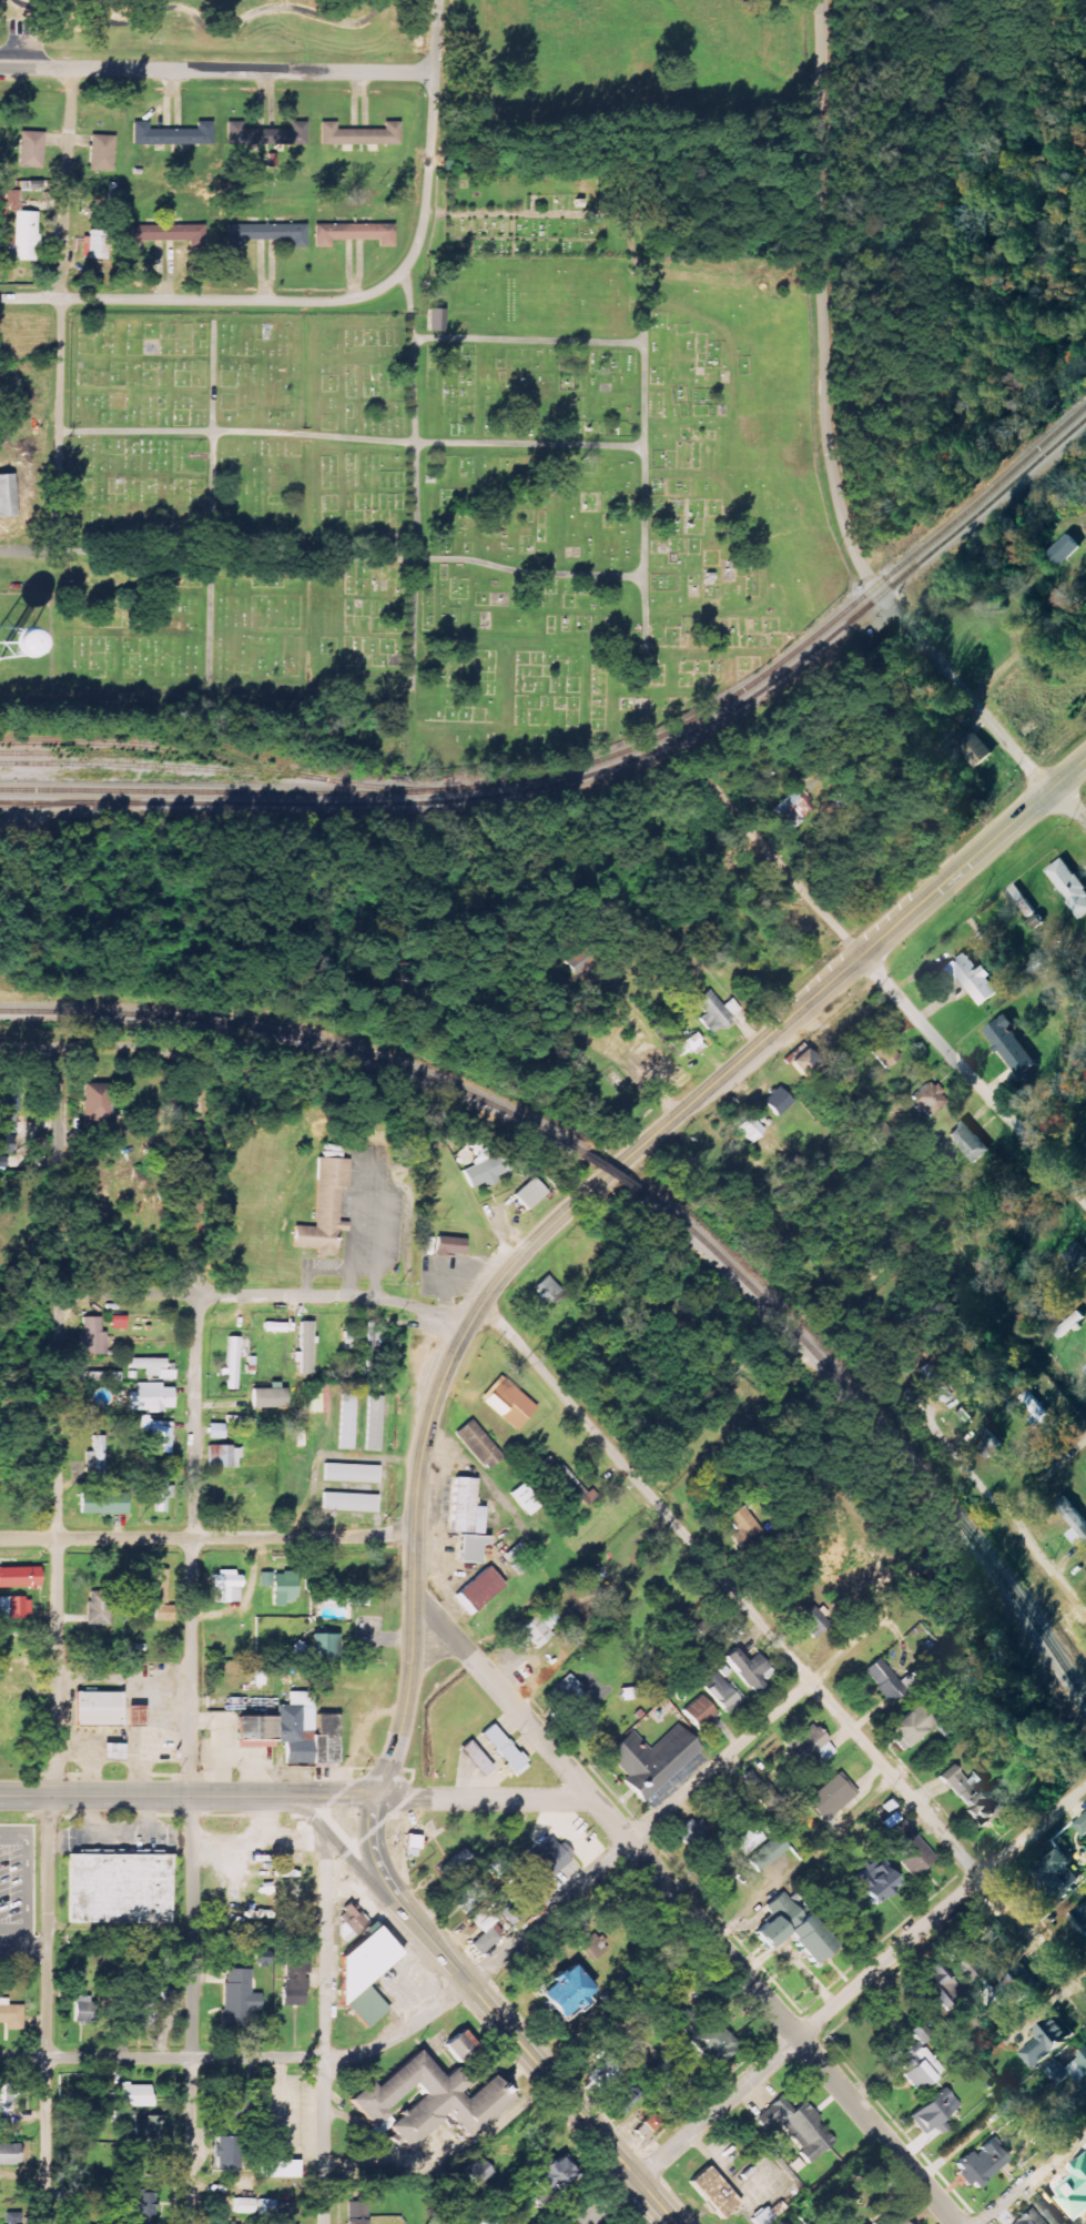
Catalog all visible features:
park: (629, 54)
road: (217, 70)
building: (173, 134)
building: (266, 135)
building: (359, 135)
road: (430, 139)
building: (31, 149)
building: (102, 153)
building: (9, 203)
park: (532, 214)
building: (163, 233)
building: (267, 234)
building: (356, 234)
building: (24, 236)
building: (95, 244)
road: (203, 300)
road: (63, 310)
building: (429, 319)
road: (642, 326)
road: (527, 341)
road: (351, 438)
road: (831, 456)
road: (414, 479)
building: (7, 496)
road: (212, 502)
park: (446, 512)
building: (1065, 549)
road: (28, 552)
road: (349, 555)
building: (8, 638)
water tower: (9, 644)
railway: (801, 647)
road: (1027, 649)
building: (974, 747)
railway: (126, 755)
railway: (231, 759)
railway: (165, 767)
railway: (601, 771)
railway: (231, 792)
railway: (48, 805)
building: (795, 808)
building: (1069, 886)
building: (971, 978)
building: (715, 1011)
road: (926, 1029)
railway: (301, 1037)
building: (688, 1044)
building: (1012, 1045)
road: (149, 1048)
building: (886, 1054)
building: (804, 1061)
building: (652, 1063)
building: (930, 1099)
building: (9, 1100)
building: (778, 1101)
building: (95, 1104)
building: (750, 1129)
building: (4, 1142)
building: (971, 1142)
building: (795, 1165)
building: (489, 1167)
railway: (609, 1173)
building: (531, 1193)
road: (586, 1194)
building: (326, 1207)
building: (450, 1245)
building: (1076, 1256)
building: (547, 1288)
road: (236, 1294)
building: (120, 1322)
building: (1070, 1324)
building: (93, 1337)
building: (362, 1343)
building: (305, 1348)
building: (232, 1363)
building: (153, 1367)
building: (935, 1385)
building: (152, 1397)
building: (270, 1398)
building: (509, 1403)
building: (1042, 1415)
road: (55, 1421)
building: (348, 1422)
building: (375, 1423)
road: (194, 1424)
railway: (881, 1431)
building: (216, 1432)
building: (159, 1434)
building: (988, 1442)
building: (479, 1445)
building: (223, 1456)
building: (99, 1463)
building: (352, 1473)
road: (1046, 1475)
building: (570, 1484)
building: (163, 1494)
road: (996, 1498)
building: (526, 1499)
building: (104, 1503)
building: (351, 1503)
building: (1073, 1519)
building: (468, 1520)
building: (748, 1527)
road: (206, 1538)
building: (20, 1577)
building: (281, 1586)
building: (226, 1587)
building: (479, 1590)
building: (159, 1594)
building: (14, 1608)
building: (99, 1608)
building: (813, 1621)
building: (540, 1628)
building: (325, 1647)
road: (784, 1651)
building: (749, 1669)
building: (19, 1671)
building: (890, 1681)
building: (722, 1691)
building: (94, 1708)
building: (700, 1711)
building: (135, 1716)
building: (6, 1718)
building: (251, 1728)
building: (911, 1728)
building: (303, 1730)
road: (753, 1731)
road: (478, 1747)
building: (498, 1748)
building: (811, 1749)
building: (113, 1751)
building: (652, 1759)
road: (507, 1763)
road: (114, 1795)
road: (303, 1796)
building: (832, 1796)
road: (484, 1798)
building: (975, 1798)
building: (1082, 1826)
building: (693, 1832)
building: (748, 1840)
building: (414, 1842)
road: (336, 1844)
building: (907, 1849)
building: (547, 1859)
building: (455, 1864)
building: (497, 1868)
road: (380, 1869)
building: (1058, 1873)
building: (877, 1882)
road: (22, 1883)
parking lot: (17, 1889)
building: (115, 1889)
building: (469, 1898)
road: (684, 1907)
road: (548, 1912)
building: (1080, 1919)
building: (354, 1924)
building: (793, 1929)
building: (483, 1940)
road: (325, 1944)
building: (593, 1947)
road: (11, 1949)
road: (34, 1949)
building: (366, 1975)
road: (861, 1981)
building: (938, 1987)
building: (1009, 1989)
building: (292, 1992)
building: (566, 1993)
building: (233, 1996)
building: (171, 1998)
road: (47, 2009)
building: (84, 2010)
road: (191, 2010)
building: (135, 2014)
building: (11, 2015)
building: (678, 2015)
road: (402, 2034)
building: (1048, 2042)
building: (714, 2045)
building: (460, 2046)
road: (162, 2055)
building: (921, 2068)
building: (1080, 2071)
road: (548, 2078)
building: (672, 2082)
building: (138, 2096)
building: (6, 2097)
building: (424, 2100)
building: (233, 2105)
building: (935, 2112)
building: (4, 2124)
building: (795, 2125)
building: (648, 2126)
building: (141, 2127)
road: (324, 2140)
building: (227, 2153)
building: (10, 2154)
building: (981, 2165)
building: (280, 2167)
building: (554, 2176)
road: (1033, 2177)
building: (708, 2193)
road: (612, 2202)
building: (140, 2205)
building: (243, 2206)
building: (358, 2213)
building: (16, 2218)
building: (1029, 2218)
building: (486, 2221)
building: (902, 2222)
building: (1060, 2223)

